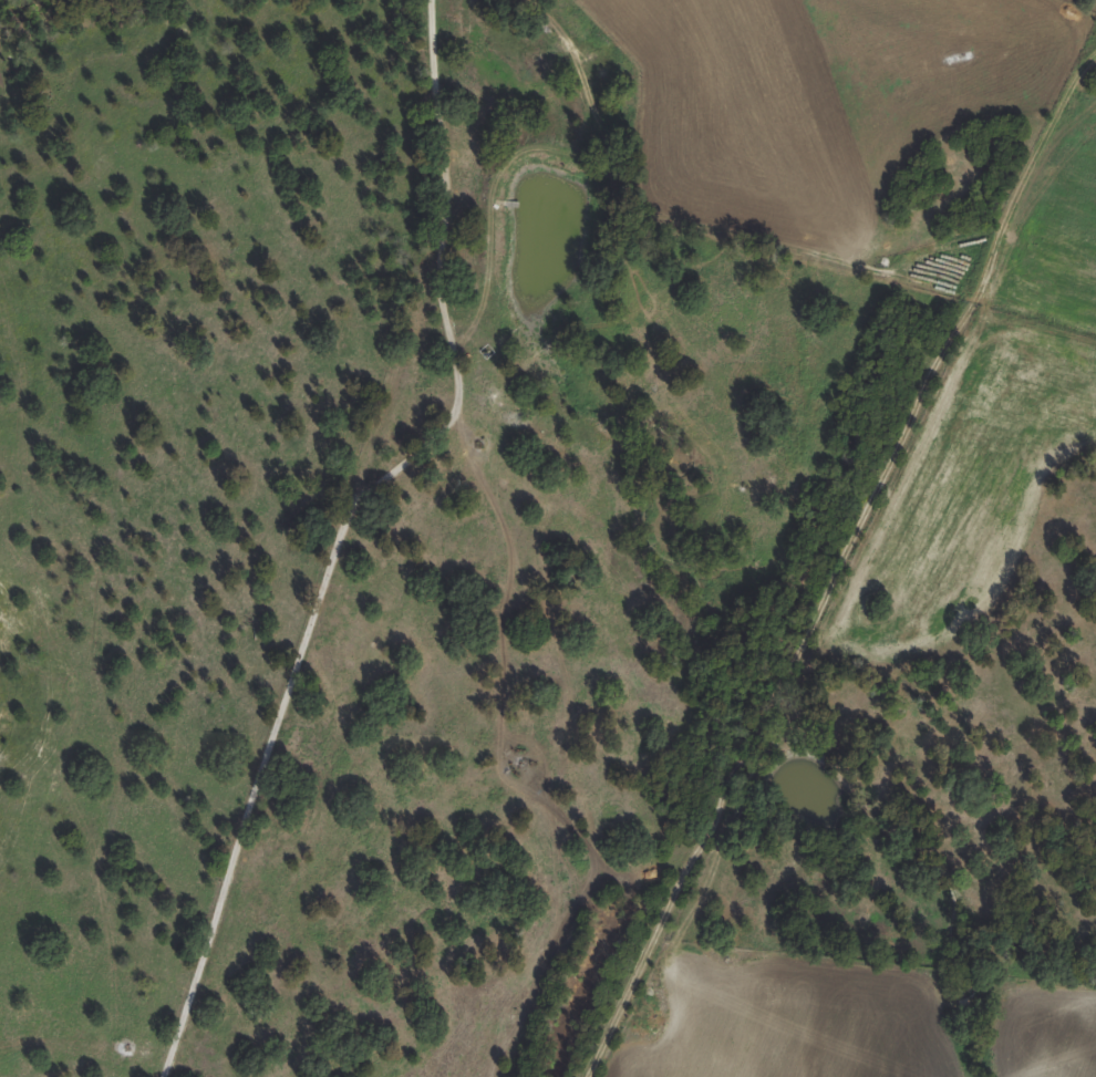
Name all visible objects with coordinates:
road: (342, 528)

